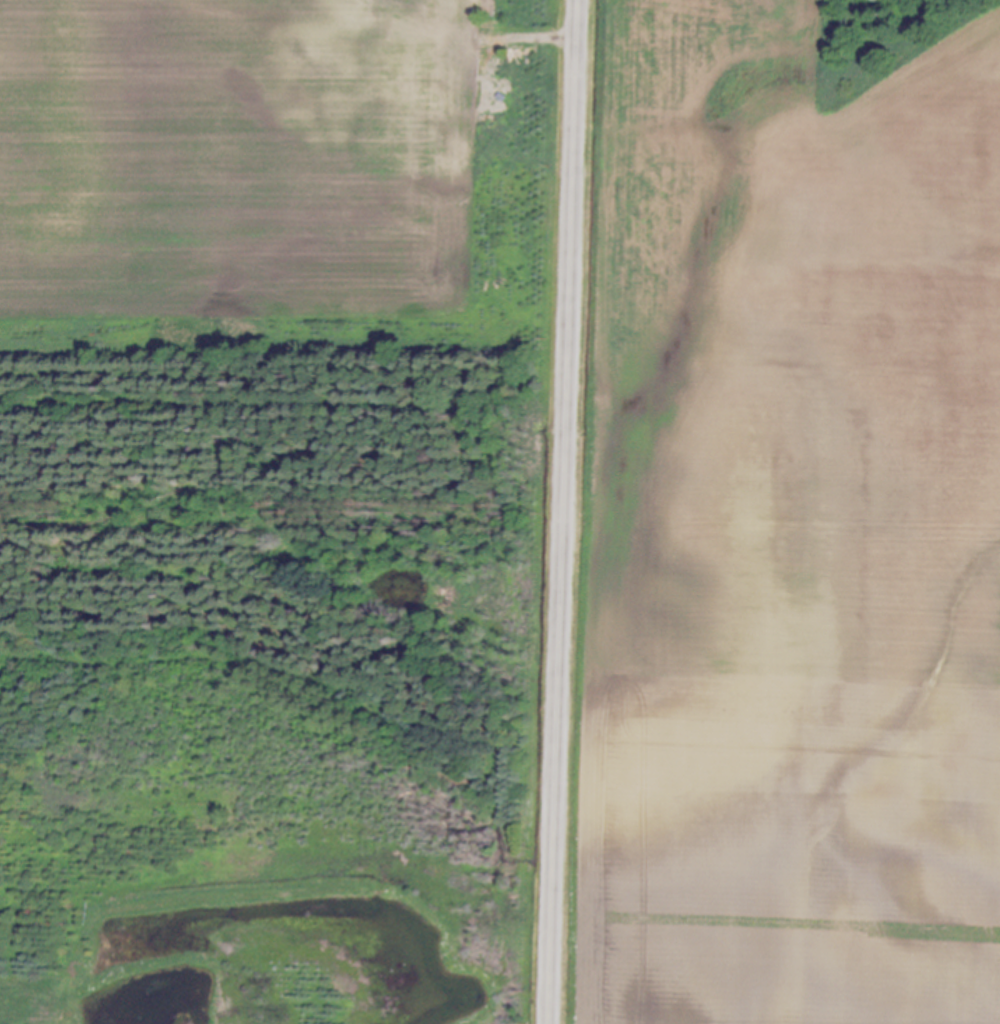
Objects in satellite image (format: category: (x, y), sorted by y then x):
road: (563, 511)

